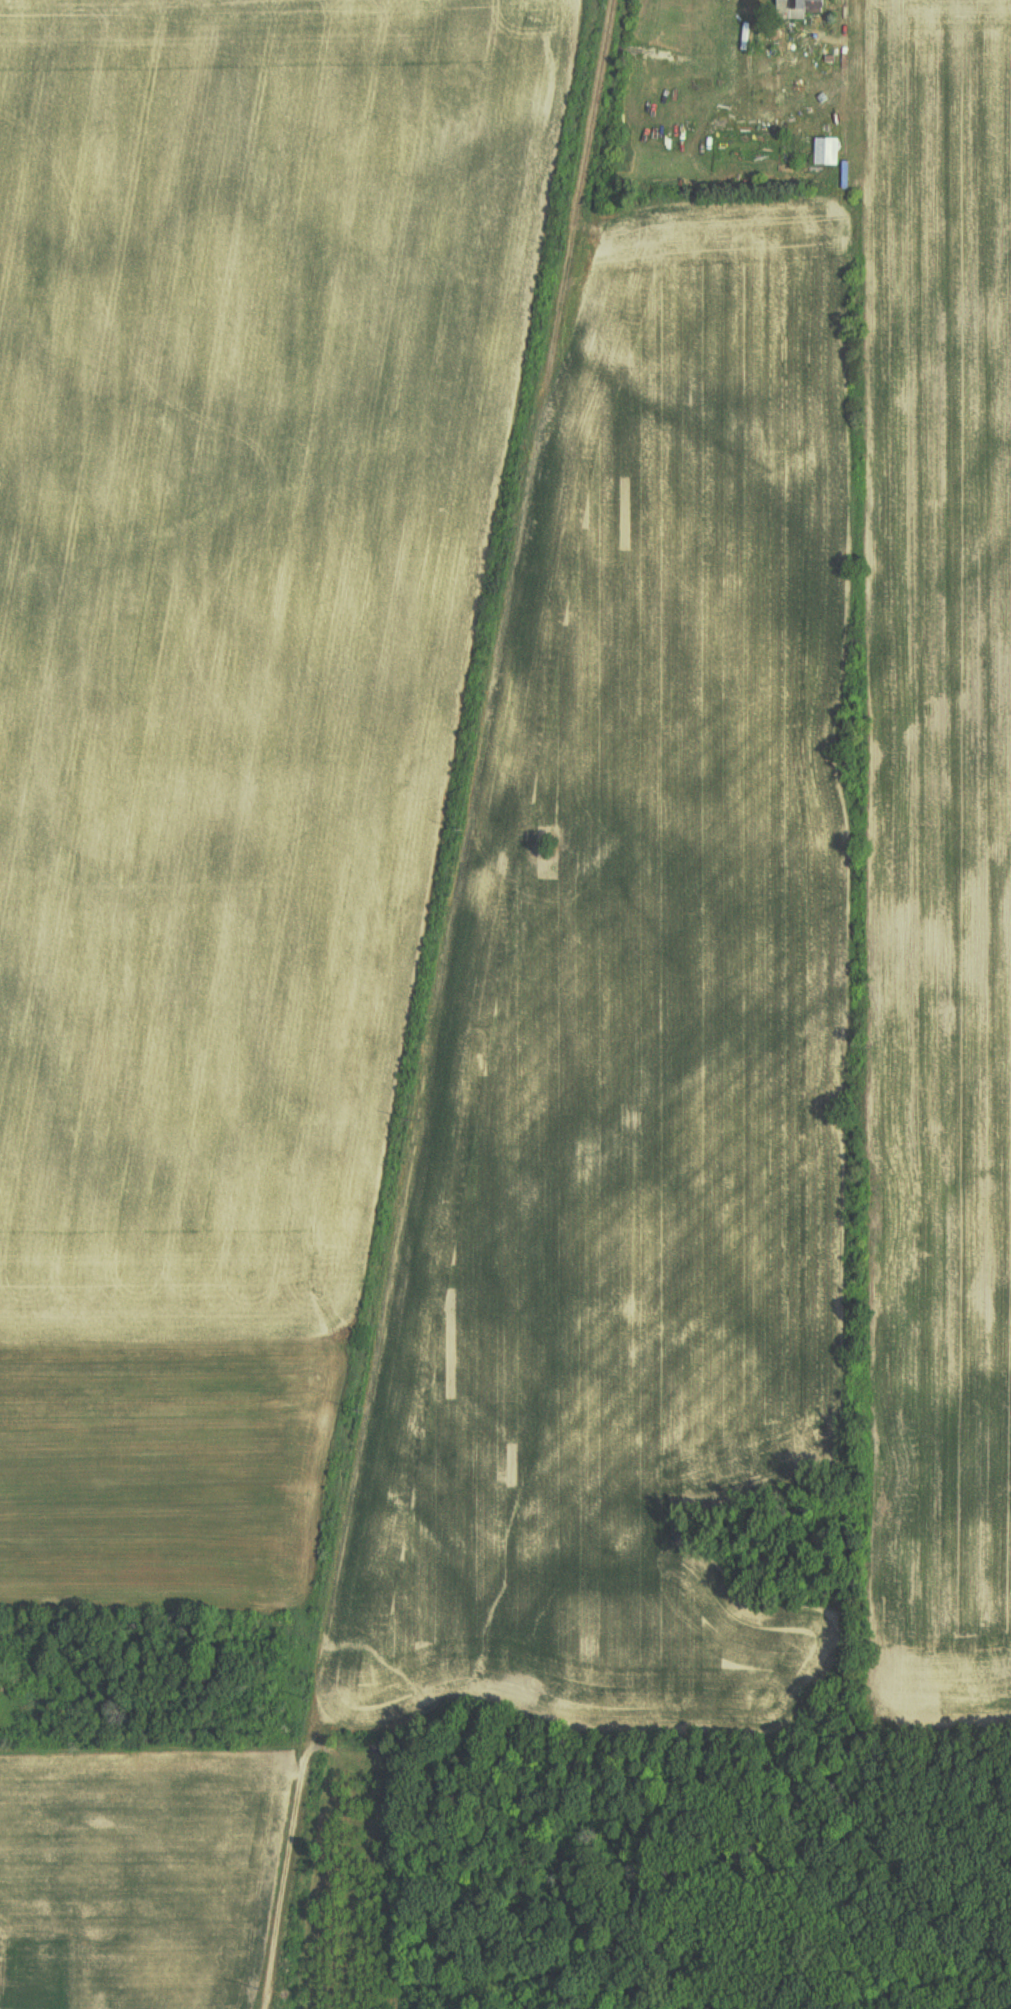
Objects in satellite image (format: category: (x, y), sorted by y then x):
building: (794, 7)
building: (824, 149)
crop: (232, 716)
crop: (938, 846)
crop: (641, 1026)
crop: (129, 1878)

